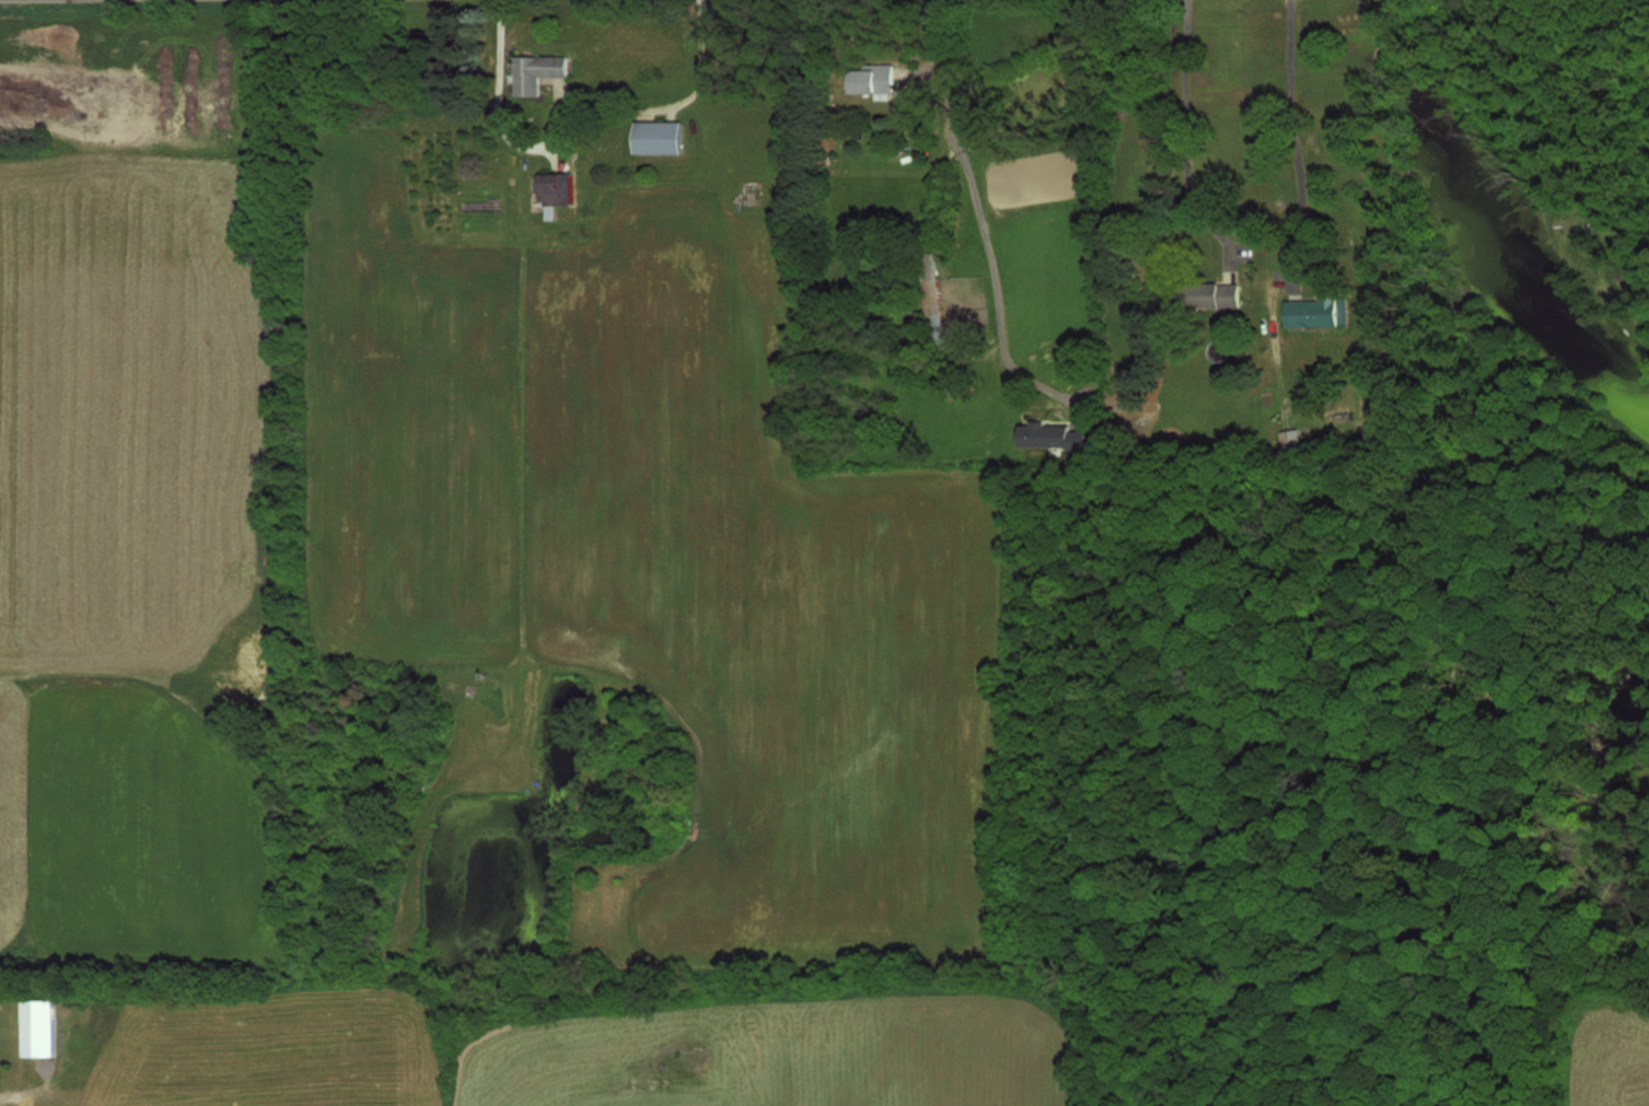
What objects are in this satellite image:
road: (701, 59)
building: (536, 71)
landfill: (124, 75)
building: (870, 78)
road: (499, 102)
building: (657, 136)
road: (1281, 150)
road: (1181, 152)
building: (555, 188)
road: (979, 210)
building: (1208, 294)
building: (929, 300)
building: (1314, 312)
building: (1127, 392)
building: (1289, 440)
building: (34, 1026)
crop: (1606, 1049)
road: (33, 1091)

